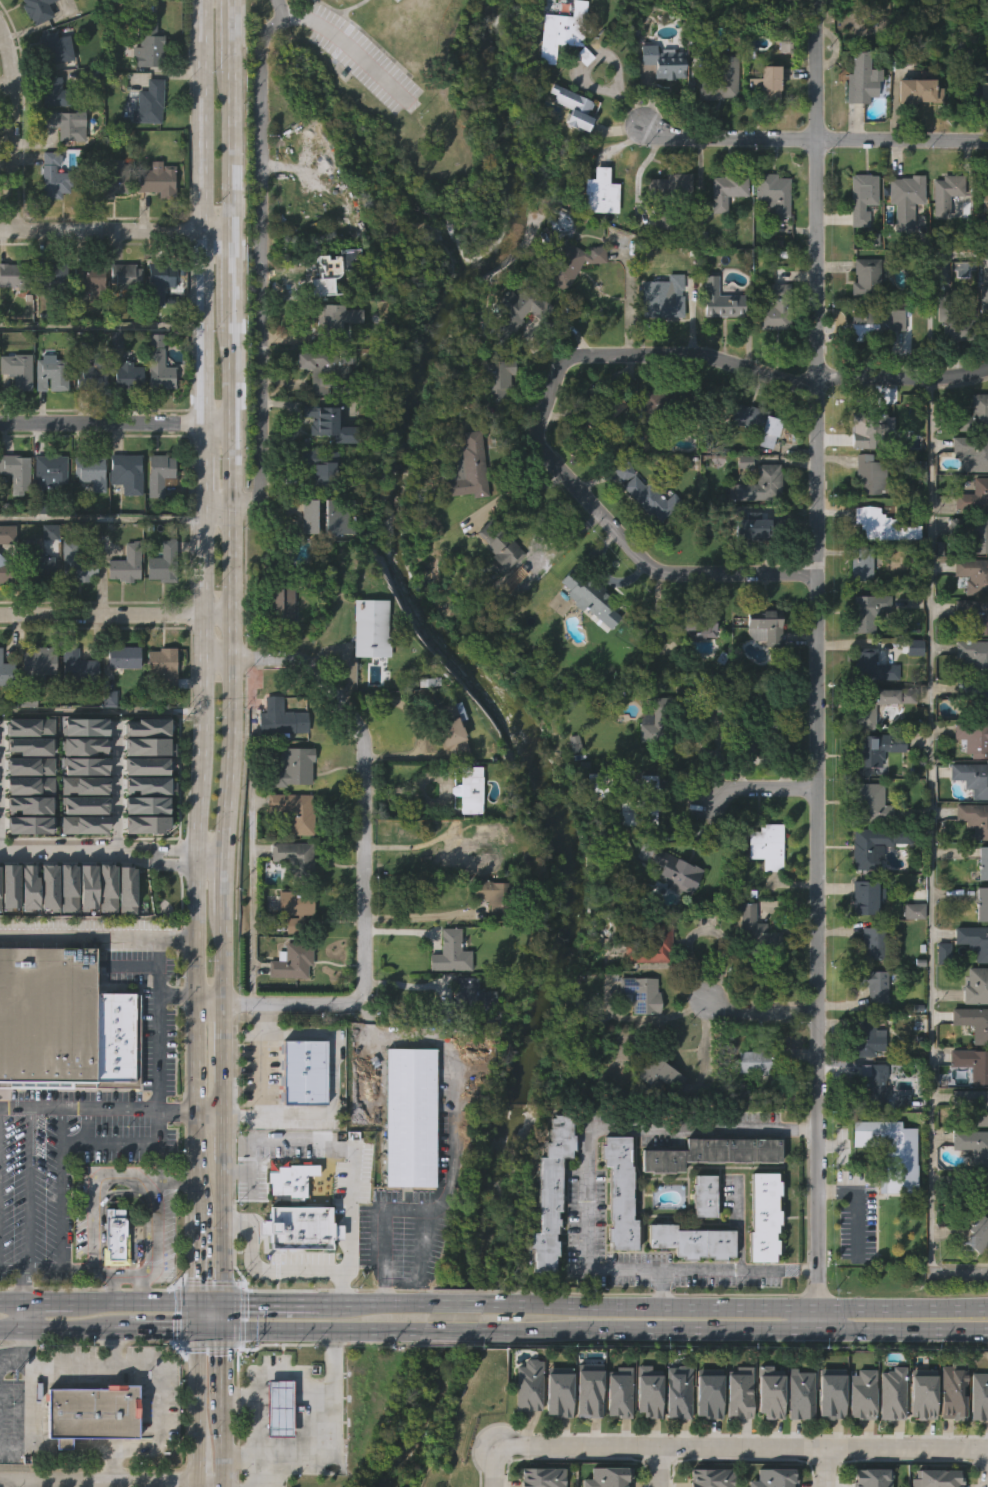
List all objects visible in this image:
building: (776, 0)
building: (38, 9)
building: (18, 14)
building: (397, 27)
building: (563, 33)
road: (229, 34)
road: (3, 41)
building: (151, 43)
building: (38, 44)
building: (56, 46)
road: (349, 46)
road: (612, 60)
building: (667, 60)
building: (557, 74)
building: (861, 77)
building: (724, 78)
building: (766, 81)
building: (55, 91)
building: (917, 91)
building: (975, 92)
building: (151, 102)
building: (660, 104)
building: (571, 106)
park: (382, 120)
building: (857, 121)
building: (67, 122)
building: (717, 124)
building: (763, 125)
road: (11, 129)
building: (968, 132)
building: (50, 133)
building: (914, 133)
building: (981, 134)
road: (811, 142)
building: (146, 145)
building: (569, 150)
road: (228, 152)
building: (63, 166)
building: (55, 175)
building: (111, 179)
building: (158, 179)
building: (672, 186)
building: (730, 188)
building: (603, 191)
building: (776, 192)
building: (945, 192)
building: (859, 197)
building: (906, 198)
building: (984, 199)
road: (199, 214)
building: (50, 217)
building: (663, 217)
building: (110, 221)
building: (154, 222)
building: (666, 227)
building: (722, 233)
road: (114, 234)
building: (597, 235)
building: (770, 235)
building: (942, 236)
building: (858, 240)
building: (901, 241)
building: (982, 242)
building: (577, 260)
building: (656, 265)
building: (864, 271)
building: (51, 273)
building: (328, 274)
road: (260, 275)
building: (15, 276)
building: (93, 279)
building: (124, 279)
road: (229, 281)
building: (156, 288)
road: (920, 288)
building: (343, 300)
building: (669, 300)
building: (720, 300)
building: (983, 303)
building: (566, 306)
building: (515, 309)
building: (776, 309)
building: (50, 315)
building: (948, 316)
building: (8, 317)
building: (122, 318)
building: (873, 318)
building: (86, 320)
building: (330, 321)
building: (156, 323)
road: (100, 325)
building: (662, 342)
building: (717, 343)
building: (982, 349)
building: (938, 350)
building: (770, 352)
building: (509, 353)
road: (687, 359)
building: (871, 365)
building: (161, 366)
building: (18, 369)
building: (330, 372)
building: (52, 373)
building: (95, 373)
building: (498, 375)
building: (129, 376)
building: (112, 381)
road: (902, 382)
building: (664, 403)
building: (155, 407)
building: (15, 412)
building: (602, 412)
building: (971, 415)
building: (47, 416)
building: (754, 417)
building: (87, 418)
building: (125, 418)
building: (492, 421)
building: (332, 424)
road: (101, 427)
road: (217, 428)
building: (871, 429)
building: (653, 442)
building: (608, 448)
building: (971, 451)
building: (743, 458)
building: (471, 466)
building: (323, 468)
road: (201, 469)
building: (92, 471)
building: (125, 471)
building: (17, 472)
building: (49, 473)
building: (160, 473)
building: (867, 474)
building: (764, 479)
building: (649, 493)
building: (975, 498)
building: (741, 503)
building: (464, 511)
building: (619, 513)
building: (14, 514)
building: (46, 514)
building: (87, 514)
building: (123, 515)
building: (156, 515)
building: (313, 516)
road: (100, 518)
building: (757, 522)
building: (871, 523)
building: (971, 532)
building: (8, 534)
building: (642, 541)
road: (616, 542)
building: (502, 546)
building: (305, 558)
building: (165, 562)
building: (36, 563)
building: (127, 563)
building: (336, 563)
building: (78, 564)
building: (858, 565)
building: (6, 571)
building: (971, 575)
building: (495, 586)
road: (229, 588)
building: (592, 595)
building: (285, 600)
building: (73, 605)
building: (160, 605)
building: (39, 607)
building: (120, 610)
building: (864, 611)
road: (114, 616)
building: (973, 616)
building: (694, 626)
building: (768, 626)
building: (368, 627)
road: (817, 635)
building: (586, 640)
building: (277, 644)
building: (125, 657)
building: (972, 657)
building: (39, 665)
building: (869, 666)
building: (79, 667)
building: (164, 667)
building: (693, 668)
building: (760, 668)
building: (366, 670)
building: (7, 672)
road: (199, 680)
building: (973, 696)
building: (120, 699)
building: (35, 705)
building: (74, 708)
road: (99, 708)
building: (159, 708)
building: (665, 712)
building: (862, 714)
building: (4, 715)
building: (774, 717)
building: (281, 719)
building: (30, 722)
building: (86, 722)
building: (148, 727)
building: (449, 728)
building: (747, 732)
building: (970, 738)
building: (31, 741)
building: (85, 741)
building: (145, 747)
building: (873, 749)
building: (651, 760)
building: (30, 761)
building: (87, 761)
building: (277, 761)
building: (145, 766)
building: (294, 766)
building: (447, 773)
building: (970, 777)
building: (30, 781)
building: (84, 781)
building: (146, 785)
road: (115, 786)
building: (892, 787)
building: (464, 789)
road: (766, 789)
building: (31, 800)
building: (86, 800)
building: (644, 804)
building: (868, 804)
building: (144, 805)
building: (297, 810)
building: (972, 819)
building: (30, 820)
building: (85, 820)
building: (145, 824)
road: (930, 828)
building: (467, 832)
road: (363, 837)
building: (874, 844)
road: (409, 845)
building: (27, 846)
building: (82, 846)
building: (143, 846)
building: (475, 847)
building: (764, 847)
road: (158, 848)
road: (61, 849)
road: (210, 851)
road: (196, 857)
road: (225, 857)
building: (297, 859)
road: (157, 861)
building: (982, 862)
road: (210, 863)
building: (144, 865)
building: (28, 866)
building: (81, 866)
building: (678, 871)
building: (10, 881)
building: (30, 882)
building: (50, 882)
building: (88, 882)
building: (69, 883)
building: (108, 883)
building: (127, 885)
building: (763, 888)
building: (472, 890)
road: (224, 893)
building: (496, 897)
building: (861, 898)
building: (981, 904)
building: (295, 908)
building: (911, 911)
building: (672, 914)
road: (416, 916)
building: (7, 928)
building: (26, 928)
building: (46, 928)
building: (84, 928)
building: (65, 929)
building: (104, 929)
building: (124, 931)
building: (753, 932)
building: (487, 937)
road: (97, 939)
building: (652, 939)
building: (860, 939)
building: (973, 941)
building: (872, 943)
building: (452, 951)
building: (909, 952)
road: (222, 960)
building: (293, 960)
road: (158, 968)
building: (751, 972)
building: (871, 983)
building: (974, 986)
building: (644, 993)
building: (447, 994)
building: (939, 994)
road: (208, 996)
building: (465, 1001)
building: (288, 1003)
road: (760, 1008)
building: (47, 1013)
building: (971, 1021)
building: (863, 1035)
building: (467, 1036)
building: (637, 1036)
building: (115, 1037)
road: (157, 1037)
road: (196, 1038)
road: (223, 1055)
building: (763, 1060)
building: (969, 1063)
building: (304, 1068)
building: (659, 1068)
road: (450, 1070)
road: (262, 1074)
road: (332, 1078)
building: (871, 1084)
building: (749, 1103)
building: (973, 1104)
road: (112, 1112)
building: (301, 1113)
building: (655, 1115)
building: (408, 1116)
building: (870, 1123)
road: (807, 1129)
road: (224, 1142)
road: (108, 1143)
building: (972, 1145)
building: (712, 1149)
road: (351, 1159)
building: (898, 1163)
building: (295, 1178)
road: (102, 1180)
building: (979, 1188)
road: (27, 1189)
building: (619, 1189)
road: (61, 1190)
building: (550, 1190)
building: (704, 1191)
building: (886, 1193)
road: (586, 1197)
road: (857, 1201)
road: (405, 1213)
building: (764, 1213)
building: (299, 1224)
building: (118, 1234)
building: (616, 1234)
road: (224, 1235)
building: (978, 1235)
building: (692, 1237)
road: (196, 1256)
building: (760, 1258)
road: (11, 1267)
building: (296, 1269)
road: (148, 1271)
road: (808, 1271)
road: (960, 1274)
building: (975, 1275)
building: (111, 1276)
traffic signals: (197, 1279)
building: (688, 1282)
road: (133, 1285)
road: (111, 1286)
road: (662, 1287)
road: (816, 1288)
road: (11, 1298)
road: (47, 1298)
road: (134, 1300)
road: (211, 1300)
traffic signals: (242, 1300)
road: (270, 1300)
road: (374, 1301)
road: (458, 1301)
road: (649, 1304)
road: (902, 1305)
road: (22, 1312)
road: (197, 1313)
road: (225, 1313)
road: (816, 1317)
road: (54, 1326)
road: (153, 1327)
traffic signals: (178, 1327)
road: (211, 1327)
road: (323, 1327)
road: (645, 1327)
road: (902, 1328)
road: (447, 1329)
road: (110, 1345)
traffic signals: (225, 1347)
road: (11, 1364)
road: (23, 1367)
road: (275, 1374)
road: (158, 1376)
building: (528, 1385)
road: (196, 1388)
building: (588, 1389)
building: (952, 1389)
building: (830, 1390)
building: (556, 1391)
building: (862, 1391)
building: (892, 1391)
building: (922, 1391)
building: (800, 1393)
building: (978, 1393)
building: (279, 1406)
gas station: (279, 1406)
road: (223, 1407)
building: (88, 1412)
building: (524, 1427)
building: (584, 1431)
building: (949, 1432)
building: (554, 1433)
building: (615, 1433)
building: (645, 1433)
building: (675, 1433)
building: (706, 1434)
building: (737, 1434)
building: (767, 1434)
building: (827, 1435)
building: (858, 1435)
building: (888, 1435)
building: (918, 1435)
building: (796, 1436)
road: (327, 1438)
building: (977, 1438)
road: (740, 1446)
building: (275, 1450)
building: (89, 1454)
road: (493, 1465)
road: (657, 1466)
road: (827, 1466)
road: (194, 1467)
road: (97, 1483)
road: (16, 1485)
road: (90, 1485)
road: (193, 1486)
road: (201, 1486)

